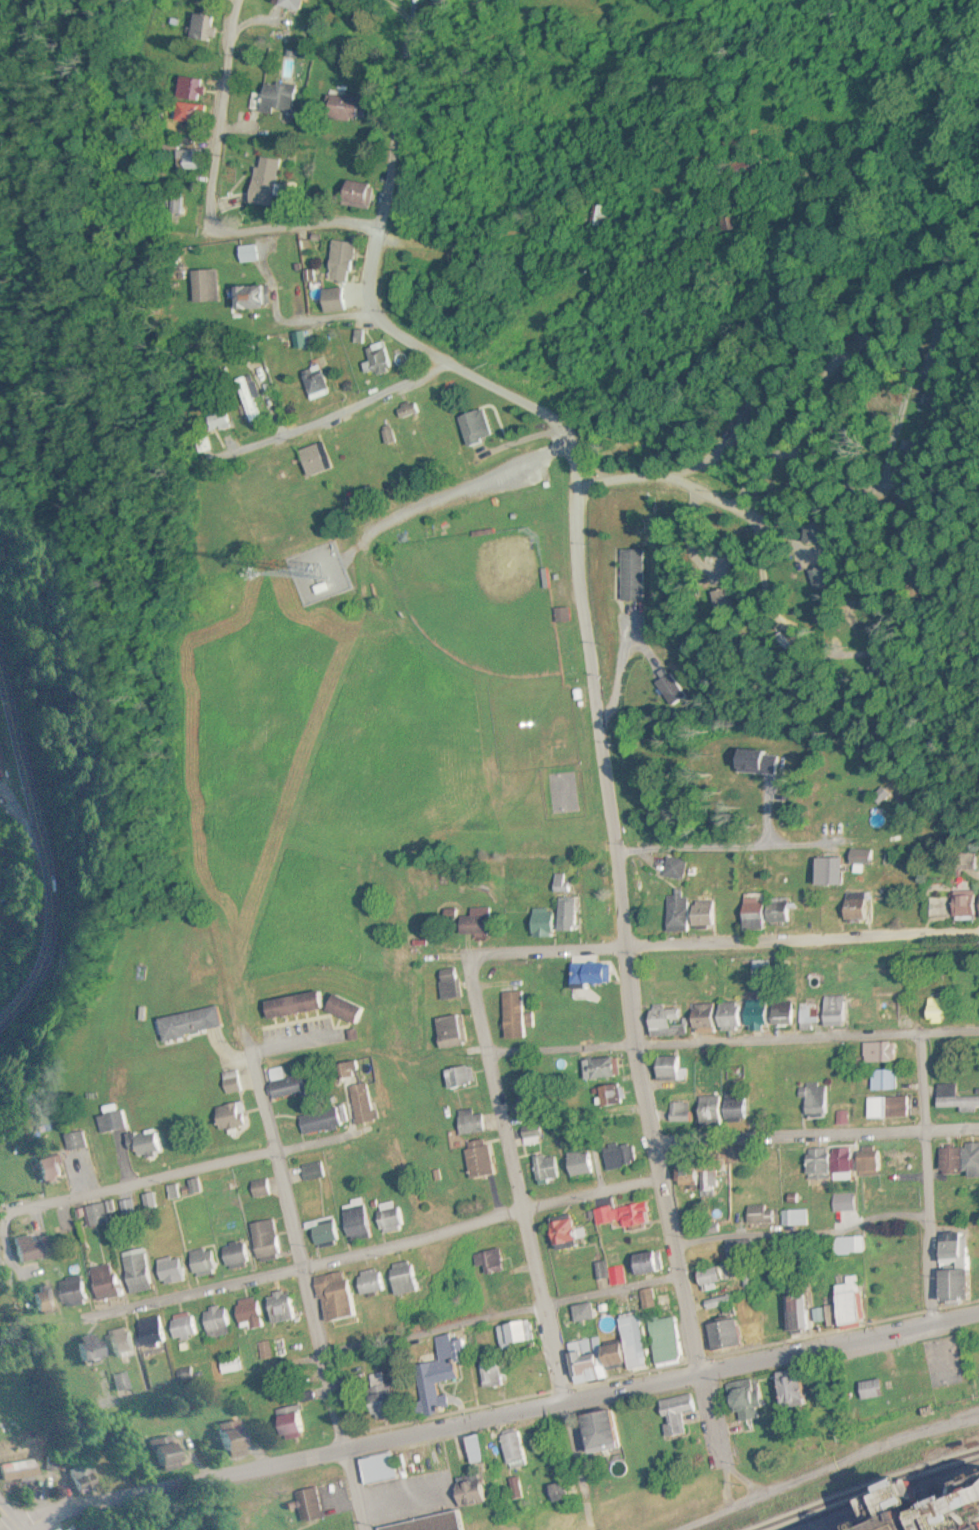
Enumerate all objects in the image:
building: (288, 4)
road: (409, 15)
building: (202, 28)
building: (189, 89)
building: (276, 98)
building: (342, 107)
building: (189, 113)
building: (193, 159)
building: (270, 181)
building: (356, 194)
road: (543, 194)
road: (221, 195)
building: (605, 216)
road: (382, 217)
building: (251, 253)
building: (340, 256)
building: (257, 297)
building: (330, 300)
building: (299, 340)
building: (375, 357)
building: (314, 383)
road: (366, 399)
building: (252, 411)
building: (222, 422)
building: (473, 426)
building: (313, 459)
road: (704, 492)
building: (814, 534)
building: (631, 575)
building: (821, 578)
building: (562, 616)
park: (328, 735)
road: (40, 852)
building: (674, 868)
building: (827, 872)
building: (558, 883)
road: (619, 897)
building: (965, 905)
building: (851, 907)
building: (825, 910)
building: (565, 913)
building: (690, 914)
building: (765, 914)
building: (537, 921)
building: (470, 925)
road: (723, 943)
building: (588, 975)
building: (449, 984)
building: (311, 1007)
building: (937, 1009)
building: (833, 1011)
building: (779, 1012)
building: (512, 1015)
building: (705, 1019)
building: (189, 1024)
building: (450, 1031)
road: (731, 1040)
building: (877, 1052)
building: (599, 1069)
building: (666, 1069)
building: (345, 1070)
building: (275, 1074)
building: (458, 1077)
building: (881, 1080)
building: (231, 1081)
building: (279, 1092)
building: (608, 1095)
building: (953, 1098)
building: (814, 1101)
building: (360, 1104)
building: (885, 1107)
building: (719, 1110)
building: (680, 1112)
building: (229, 1116)
building: (118, 1121)
building: (317, 1122)
building: (470, 1123)
building: (531, 1136)
road: (815, 1137)
building: (80, 1141)
building: (159, 1143)
building: (616, 1156)
building: (478, 1159)
building: (865, 1160)
building: (957, 1160)
building: (813, 1162)
building: (838, 1162)
building: (578, 1163)
building: (546, 1168)
building: (55, 1170)
building: (311, 1171)
building: (705, 1178)
road: (927, 1178)
road: (146, 1181)
building: (259, 1188)
building: (171, 1192)
building: (148, 1201)
building: (842, 1203)
building: (758, 1214)
building: (620, 1215)
building: (793, 1217)
building: (353, 1218)
building: (388, 1218)
road: (527, 1224)
building: (322, 1231)
building: (559, 1233)
road: (802, 1233)
building: (263, 1240)
building: (848, 1246)
building: (36, 1248)
road: (372, 1250)
building: (234, 1256)
building: (200, 1261)
building: (488, 1262)
building: (644, 1263)
building: (952, 1270)
building: (169, 1271)
building: (608, 1273)
building: (135, 1274)
building: (711, 1276)
building: (401, 1279)
building: (368, 1282)
building: (102, 1283)
building: (69, 1292)
road: (309, 1295)
building: (331, 1295)
building: (647, 1298)
building: (35, 1302)
building: (844, 1304)
building: (279, 1307)
building: (582, 1312)
building: (794, 1314)
building: (246, 1315)
road: (500, 1319)
building: (215, 1321)
building: (148, 1333)
building: (513, 1333)
building: (722, 1335)
building: (663, 1340)
building: (115, 1342)
building: (82, 1348)
building: (271, 1350)
building: (608, 1353)
building: (229, 1366)
building: (438, 1374)
building: (494, 1375)
road: (662, 1382)
building: (117, 1383)
building: (788, 1389)
building: (869, 1391)
building: (741, 1397)
building: (378, 1398)
building: (675, 1415)
building: (287, 1422)
building: (595, 1433)
building: (223, 1441)
building: (513, 1447)
building: (741, 1448)
building: (471, 1450)
building: (158, 1453)
building: (376, 1470)
building: (16, 1472)
road: (183, 1485)
railway: (873, 1489)
building: (307, 1505)
power plant: (923, 1508)
building: (932, 1509)
road: (10, 1517)
building: (430, 1523)

